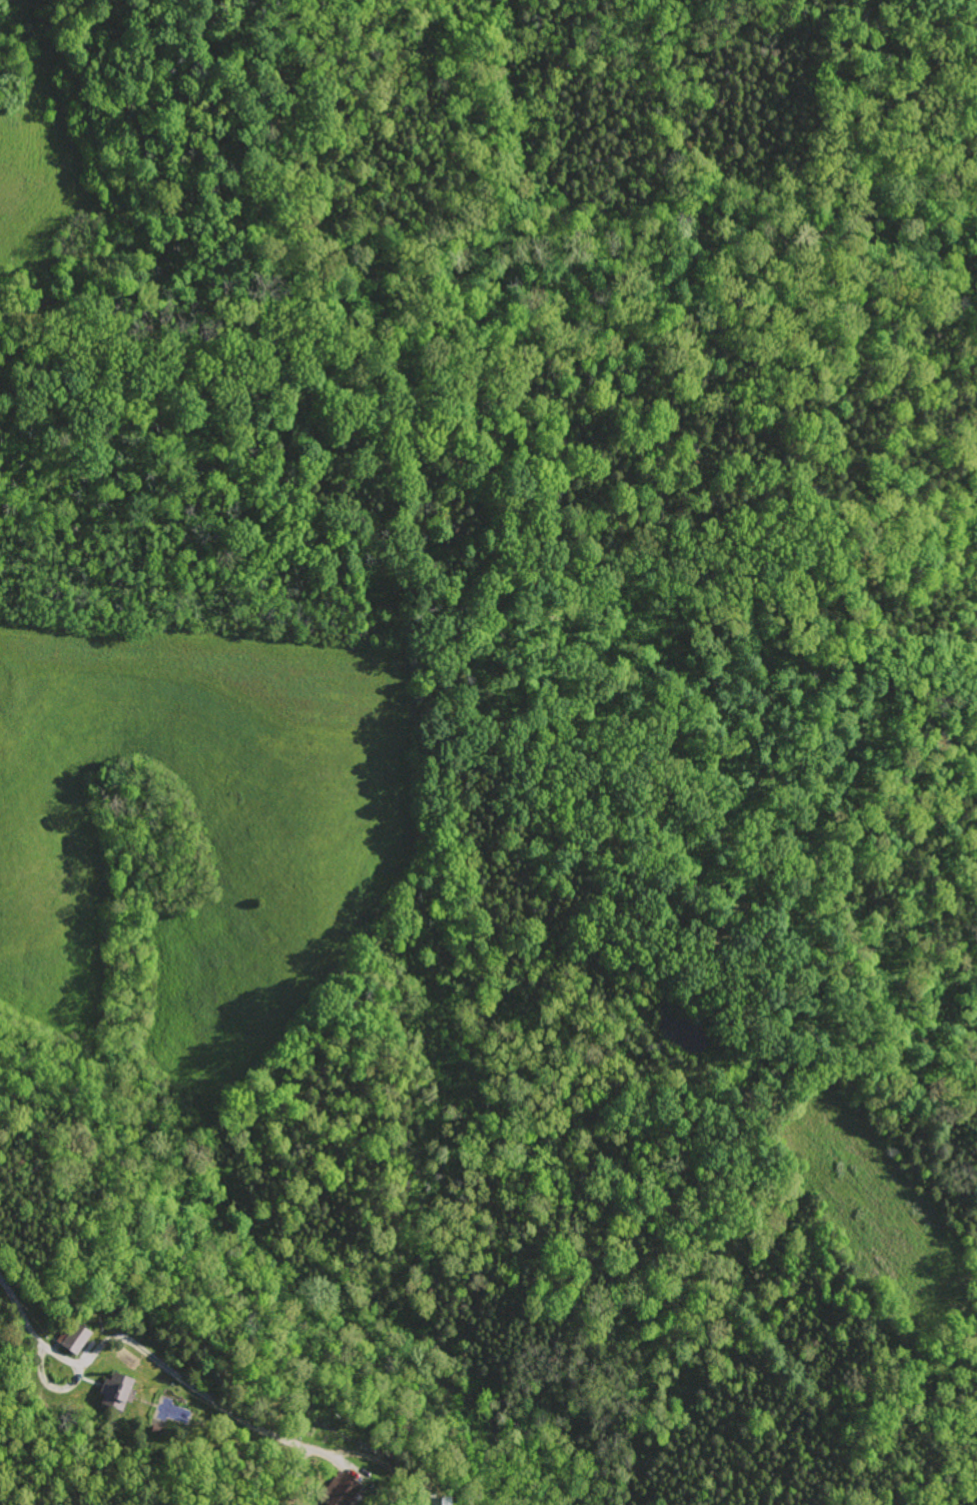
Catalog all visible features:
road: (30, 1325)
building: (70, 1338)
road: (187, 1384)
building: (111, 1391)
building: (335, 1490)
building: (436, 1501)

